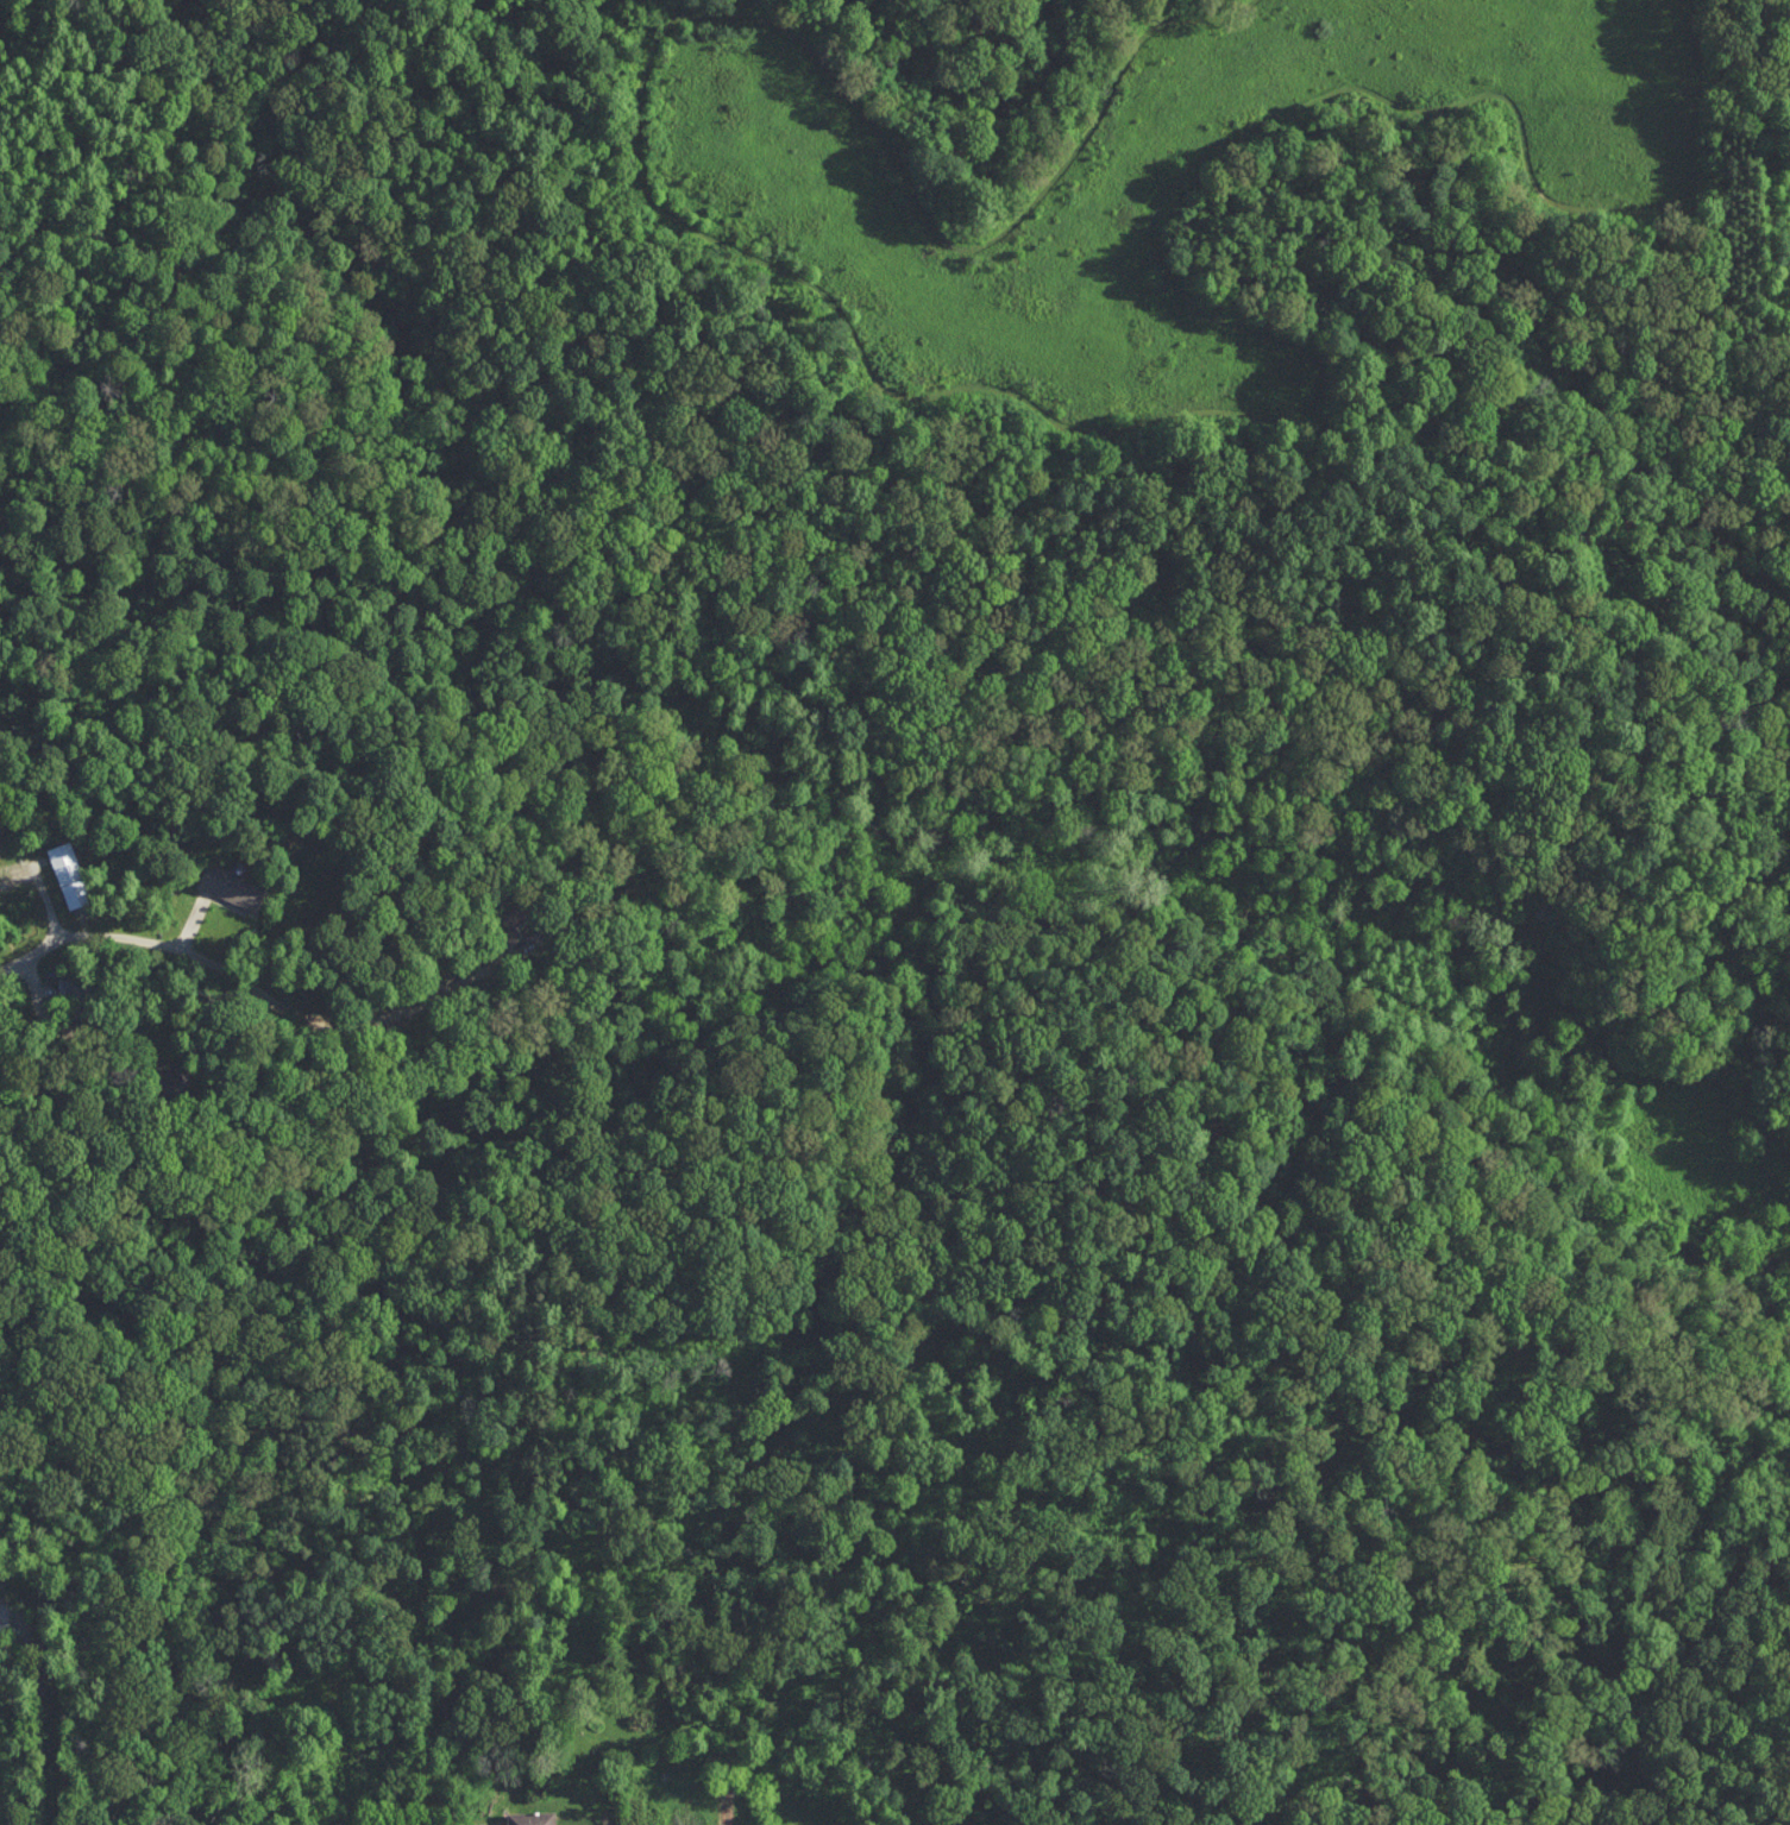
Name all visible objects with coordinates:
building: (70, 874)
building: (233, 887)
road: (30, 949)
road: (201, 962)
building: (67, 987)
building: (177, 1080)
road: (42, 1714)
building: (533, 1817)

